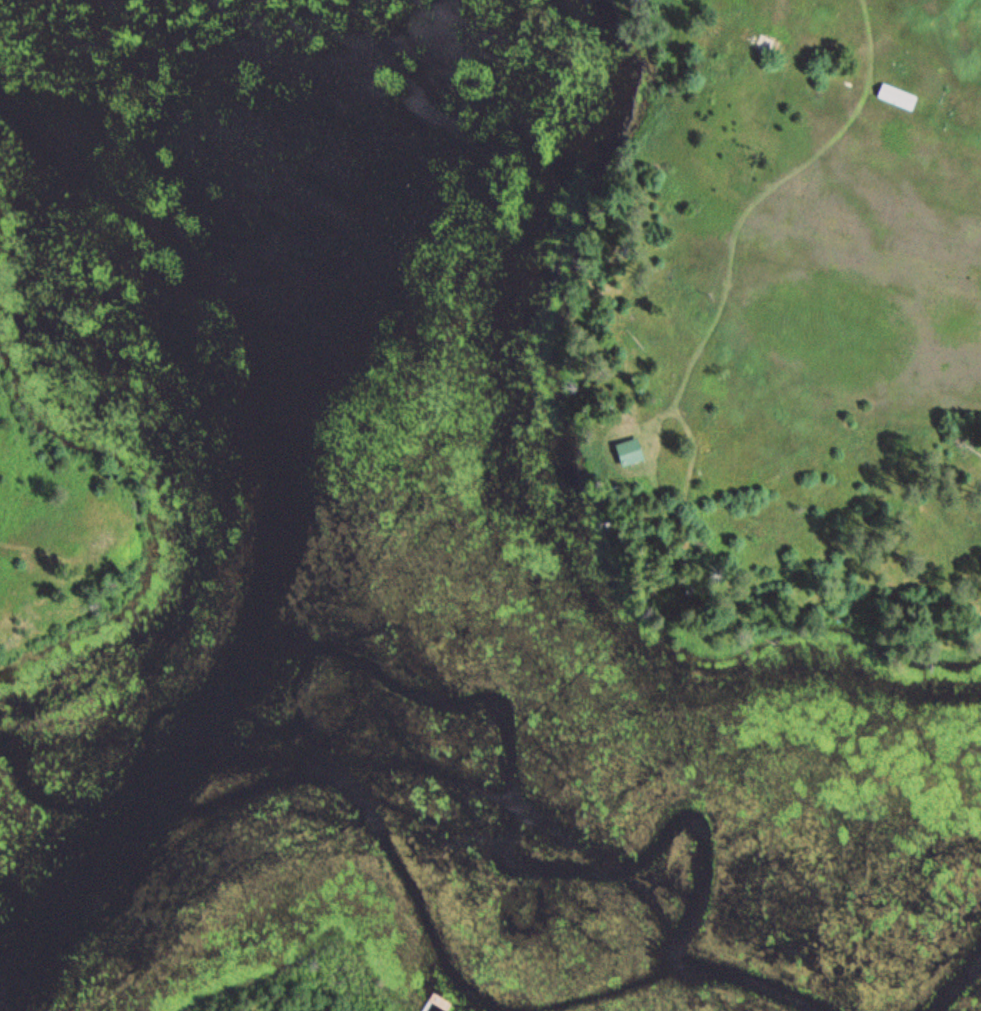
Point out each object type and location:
building: (633, 451)

